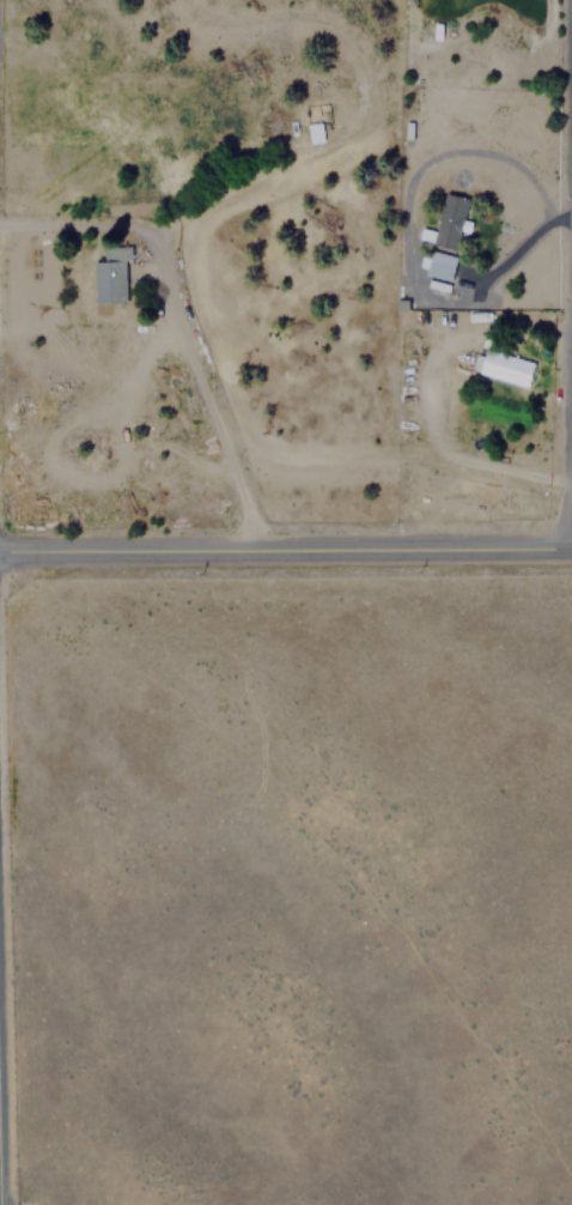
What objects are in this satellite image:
building: (317, 133)
building: (449, 222)
building: (439, 265)
building: (110, 274)
road: (172, 321)
building: (506, 368)
road: (285, 551)
crop: (292, 896)

